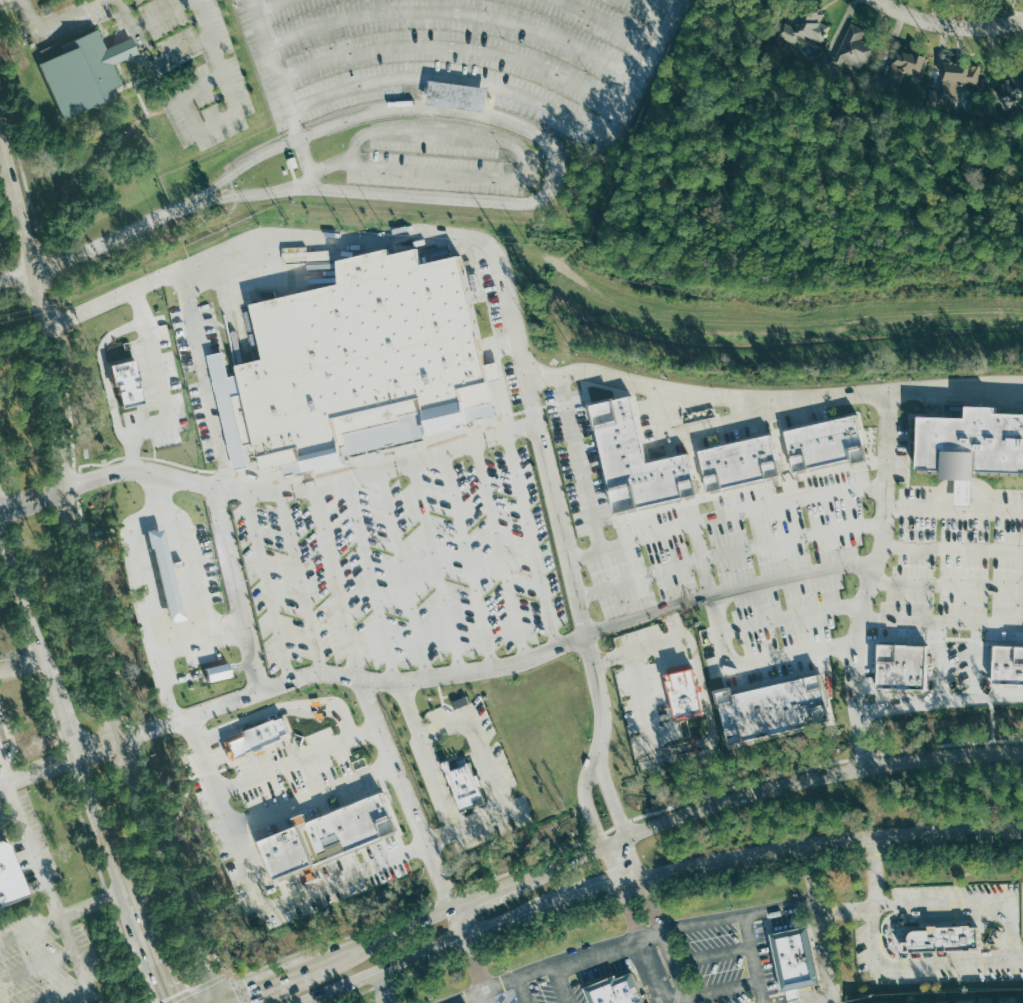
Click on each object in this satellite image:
road: (269, 5)
road: (651, 6)
road: (31, 13)
road: (67, 13)
road: (161, 13)
road: (453, 13)
road: (604, 20)
road: (946, 23)
building: (805, 29)
road: (136, 32)
road: (451, 47)
road: (125, 50)
building: (851, 50)
building: (122, 51)
road: (182, 52)
parking lot: (465, 55)
road: (217, 56)
parking lot: (171, 58)
road: (636, 66)
building: (899, 67)
building: (81, 74)
road: (448, 79)
building: (951, 81)
building: (1012, 87)
road: (282, 94)
building: (458, 95)
road: (474, 104)
road: (188, 110)
road: (795, 134)
road: (82, 147)
road: (44, 151)
park: (88, 151)
road: (554, 153)
road: (521, 155)
parking lot: (442, 157)
road: (107, 163)
road: (332, 164)
road: (230, 183)
road: (19, 205)
road: (122, 232)
road: (145, 237)
road: (313, 237)
road: (18, 276)
road: (114, 298)
building: (361, 362)
road: (108, 374)
parking lot: (205, 377)
building: (124, 383)
road: (164, 389)
road: (772, 397)
building: (821, 438)
building: (968, 443)
building: (631, 455)
building: (736, 458)
road: (580, 461)
road: (269, 490)
road: (66, 506)
road: (953, 508)
road: (725, 514)
road: (531, 541)
road: (951, 549)
road: (97, 550)
road: (728, 551)
road: (499, 552)
road: (467, 561)
parking lot: (587, 561)
parking lot: (207, 563)
road: (187, 566)
road: (435, 569)
building: (164, 574)
gas station: (164, 574)
road: (402, 576)
road: (370, 581)
road: (869, 581)
road: (299, 582)
road: (335, 582)
road: (946, 583)
road: (267, 586)
road: (237, 589)
road: (576, 589)
road: (145, 590)
road: (729, 590)
road: (28, 610)
road: (790, 617)
road: (940, 619)
road: (201, 635)
road: (652, 647)
parking lot: (203, 655)
road: (21, 664)
road: (753, 664)
building: (909, 664)
building: (994, 666)
road: (209, 670)
building: (216, 672)
road: (703, 677)
road: (353, 678)
building: (681, 692)
road: (939, 701)
road: (286, 704)
road: (646, 707)
road: (411, 708)
building: (767, 708)
road: (307, 712)
road: (994, 717)
road: (68, 726)
building: (256, 736)
road: (0, 744)
road: (687, 744)
road: (99, 746)
road: (695, 754)
road: (6, 760)
road: (299, 760)
road: (130, 762)
parking lot: (479, 766)
road: (489, 768)
road: (38, 769)
road: (438, 782)
building: (462, 786)
parking lot: (308, 787)
road: (73, 788)
road: (314, 797)
road: (589, 800)
parking lot: (22, 806)
road: (229, 812)
road: (617, 818)
road: (11, 824)
road: (616, 825)
road: (106, 833)
building: (328, 835)
road: (420, 835)
road: (438, 837)
road: (612, 843)
road: (955, 847)
road: (35, 850)
road: (842, 852)
road: (611, 865)
road: (727, 870)
road: (873, 872)
road: (650, 875)
parking lot: (299, 876)
road: (345, 876)
building: (10, 878)
road: (635, 892)
road: (179, 894)
street lamp: (799, 895)
road: (961, 895)
road: (653, 904)
road: (971, 904)
road: (95, 906)
street lamp: (733, 907)
road: (847, 909)
road: (629, 912)
road: (546, 919)
road: (891, 919)
road: (822, 923)
road: (141, 925)
road: (31, 931)
parking lot: (937, 933)
building: (941, 937)
street lamp: (583, 942)
road: (633, 944)
road: (470, 948)
road: (713, 954)
parking lot: (48, 958)
building: (794, 958)
road: (753, 959)
road: (1019, 959)
parking lot: (716, 961)
road: (675, 963)
road: (920, 964)
road: (38, 966)
road: (431, 966)
street lamp: (739, 968)
road: (158, 970)
road: (652, 972)
road: (85, 974)
street lamp: (670, 977)
road: (387, 982)
road: (386, 985)
road: (563, 985)
road: (197, 988)
building: (614, 988)
road: (724, 988)
parking lot: (527, 989)
road: (522, 990)
road: (816, 992)
building: (793, 993)
road: (353, 995)
road: (794, 995)
road: (485, 997)
road: (676, 997)
road: (690, 998)
road: (776, 998)
building: (1004, 999)
building: (919, 1000)
building: (939, 1000)
building: (960, 1000)
building: (983, 1000)
building: (1019, 1000)
road: (307, 1001)
building: (859, 1001)
building: (878, 1001)
building: (899, 1001)
road: (218, 1002)
road: (220, 1002)
traffic signals: (220, 1002)

